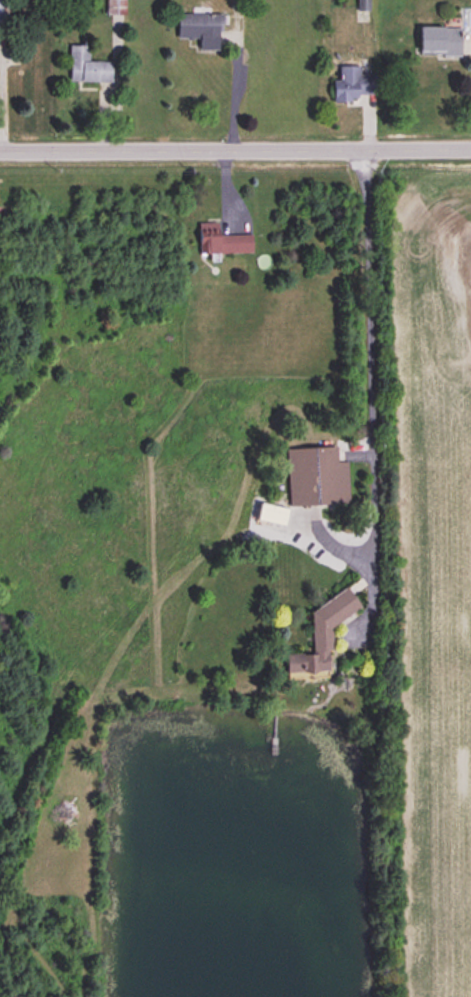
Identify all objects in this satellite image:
building: (363, 5)
building: (115, 7)
building: (1, 13)
building: (200, 29)
building: (439, 43)
building: (87, 67)
building: (352, 86)
road: (230, 91)
road: (235, 152)
building: (222, 241)
road: (371, 392)
building: (316, 477)
building: (322, 635)

